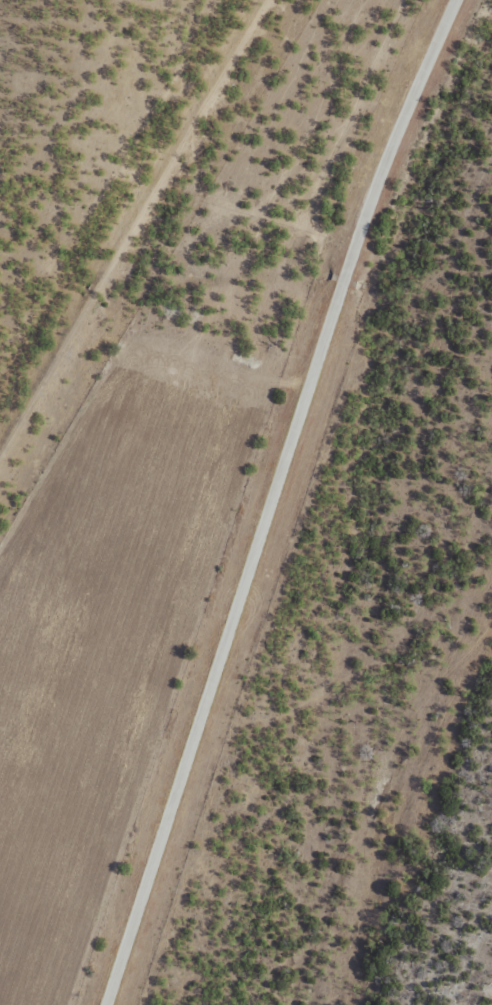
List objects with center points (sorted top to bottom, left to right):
railway: (150, 255)
road: (261, 493)
river: (387, 544)

